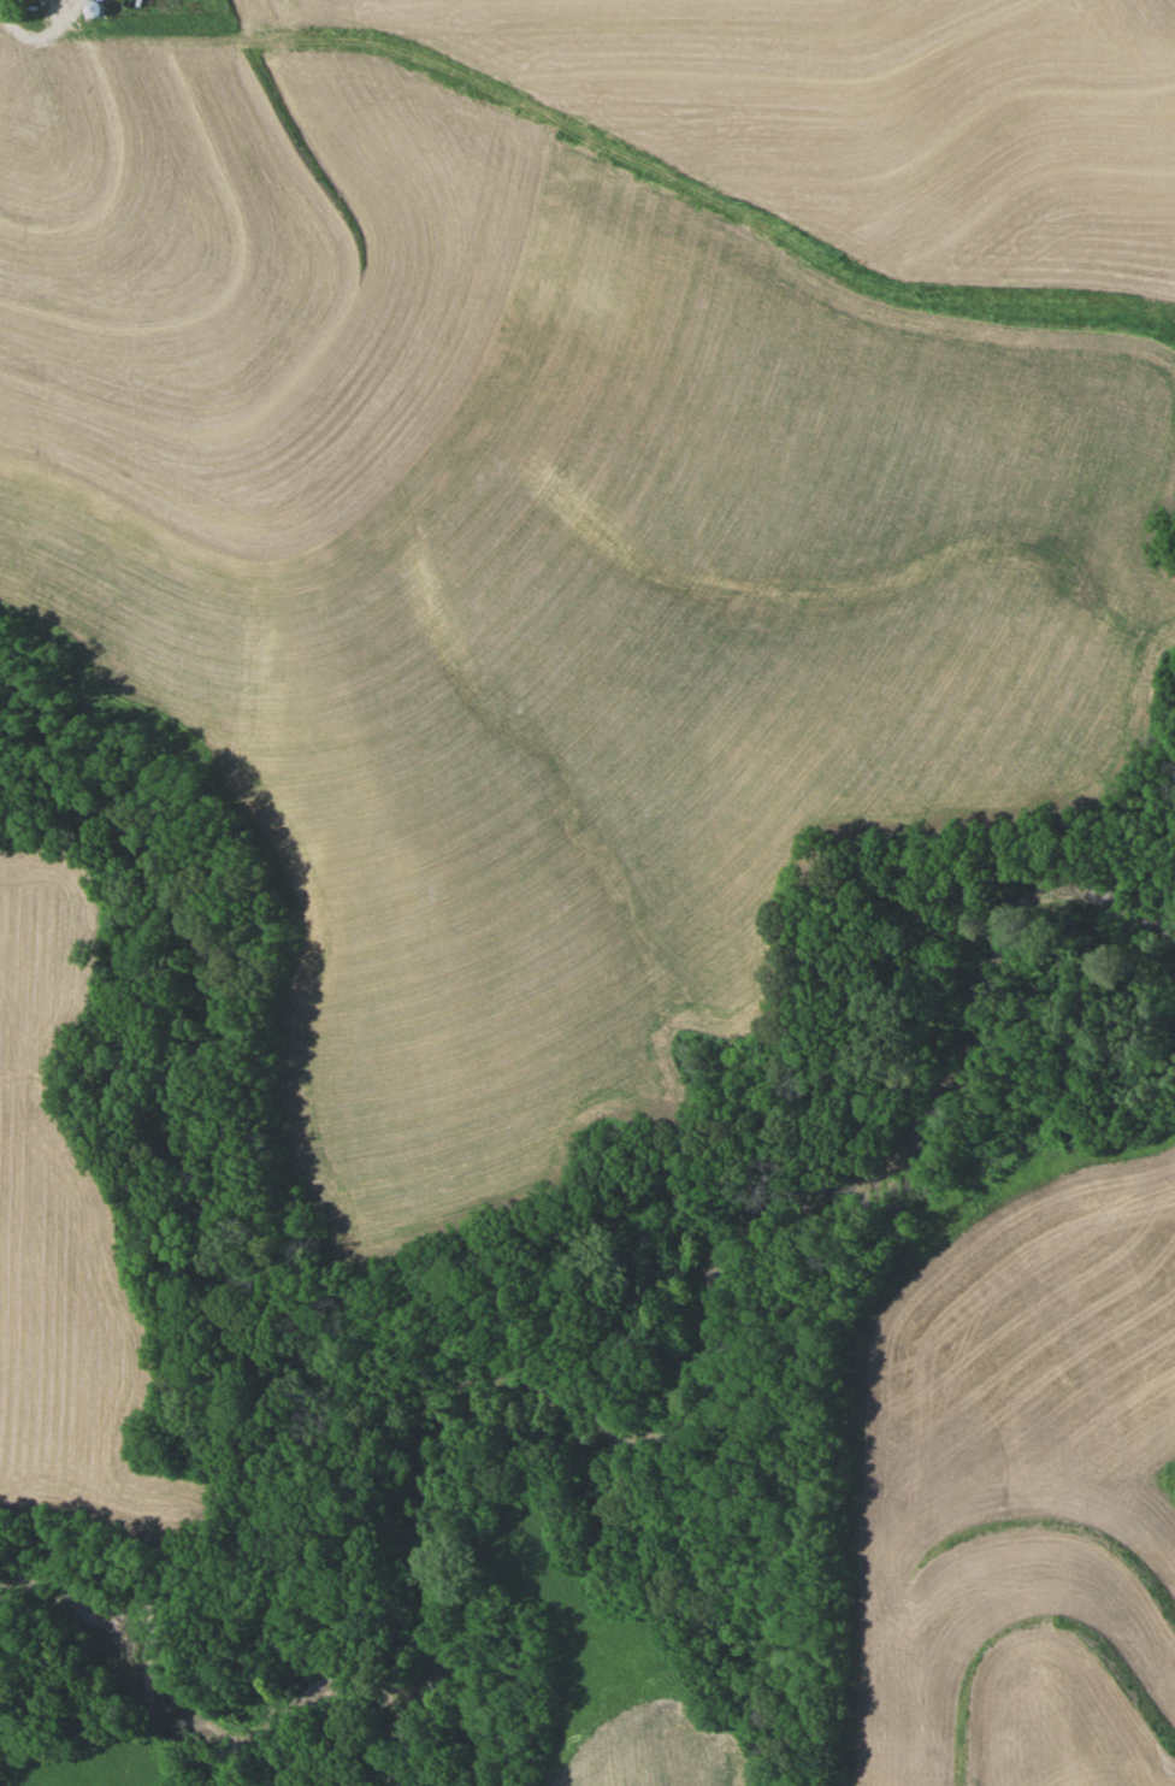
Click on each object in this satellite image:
building: (93, 8)
road: (36, 34)

